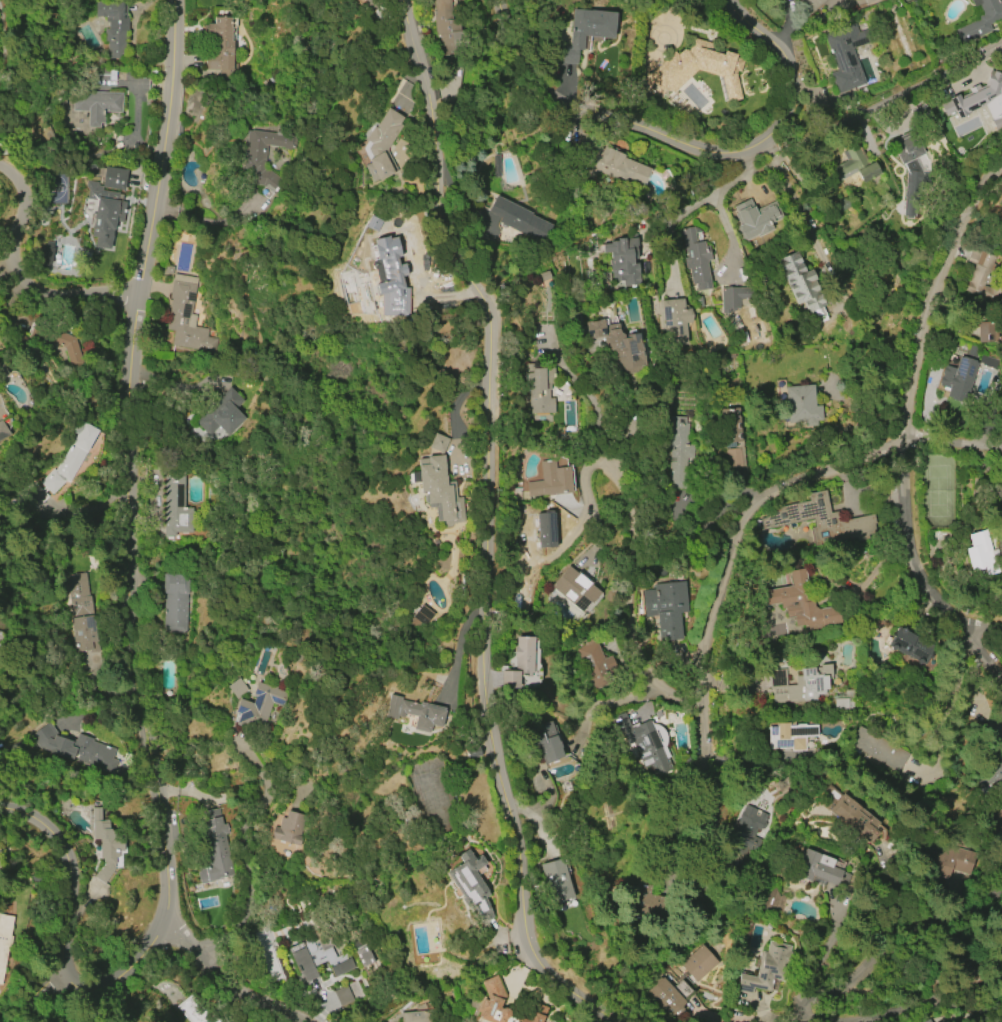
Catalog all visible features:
building: (866, 0)
building: (372, 3)
building: (805, 9)
road: (675, 17)
building: (979, 20)
building: (113, 25)
building: (448, 30)
building: (587, 31)
building: (221, 49)
building: (845, 56)
road: (786, 57)
building: (698, 68)
road: (930, 77)
building: (978, 100)
building: (95, 106)
road: (615, 118)
road: (862, 131)
building: (381, 143)
building: (264, 158)
building: (853, 166)
building: (615, 167)
building: (909, 168)
road: (716, 203)
building: (106, 205)
building: (520, 219)
building: (756, 219)
road: (209, 222)
road: (669, 229)
building: (46, 254)
building: (696, 258)
building: (623, 261)
road: (7, 264)
building: (979, 272)
building: (390, 277)
road: (17, 279)
building: (803, 285)
building: (735, 297)
building: (186, 315)
building: (674, 322)
building: (985, 332)
building: (618, 346)
building: (957, 379)
building: (539, 390)
building: (801, 405)
building: (221, 413)
building: (2, 430)
road: (901, 431)
building: (731, 434)
building: (437, 443)
building: (678, 451)
building: (64, 464)
building: (550, 480)
building: (437, 491)
road: (777, 491)
building: (175, 504)
building: (820, 520)
road: (493, 524)
building: (546, 530)
road: (577, 542)
building: (981, 554)
building: (575, 588)
building: (174, 602)
building: (801, 604)
road: (629, 605)
building: (666, 608)
building: (81, 612)
building: (421, 615)
road: (983, 632)
road: (136, 637)
road: (459, 639)
building: (910, 645)
building: (519, 663)
building: (595, 664)
building: (799, 684)
road: (619, 700)
road: (946, 704)
building: (259, 706)
building: (414, 712)
building: (789, 736)
building: (546, 741)
building: (1000, 744)
building: (642, 746)
building: (75, 748)
building: (878, 749)
building: (991, 772)
building: (855, 818)
building: (996, 822)
building: (288, 828)
building: (746, 830)
road: (715, 833)
building: (105, 845)
building: (213, 847)
building: (948, 861)
building: (816, 869)
building: (556, 881)
building: (471, 883)
building: (4, 937)
road: (511, 937)
road: (187, 938)
road: (894, 943)
building: (1000, 950)
building: (263, 954)
building: (363, 956)
building: (317, 958)
building: (698, 963)
building: (766, 969)
building: (348, 993)
building: (670, 995)
road: (257, 996)
road: (37, 1000)
road: (931, 1000)
building: (506, 1006)
building: (193, 1011)
building: (415, 1012)

